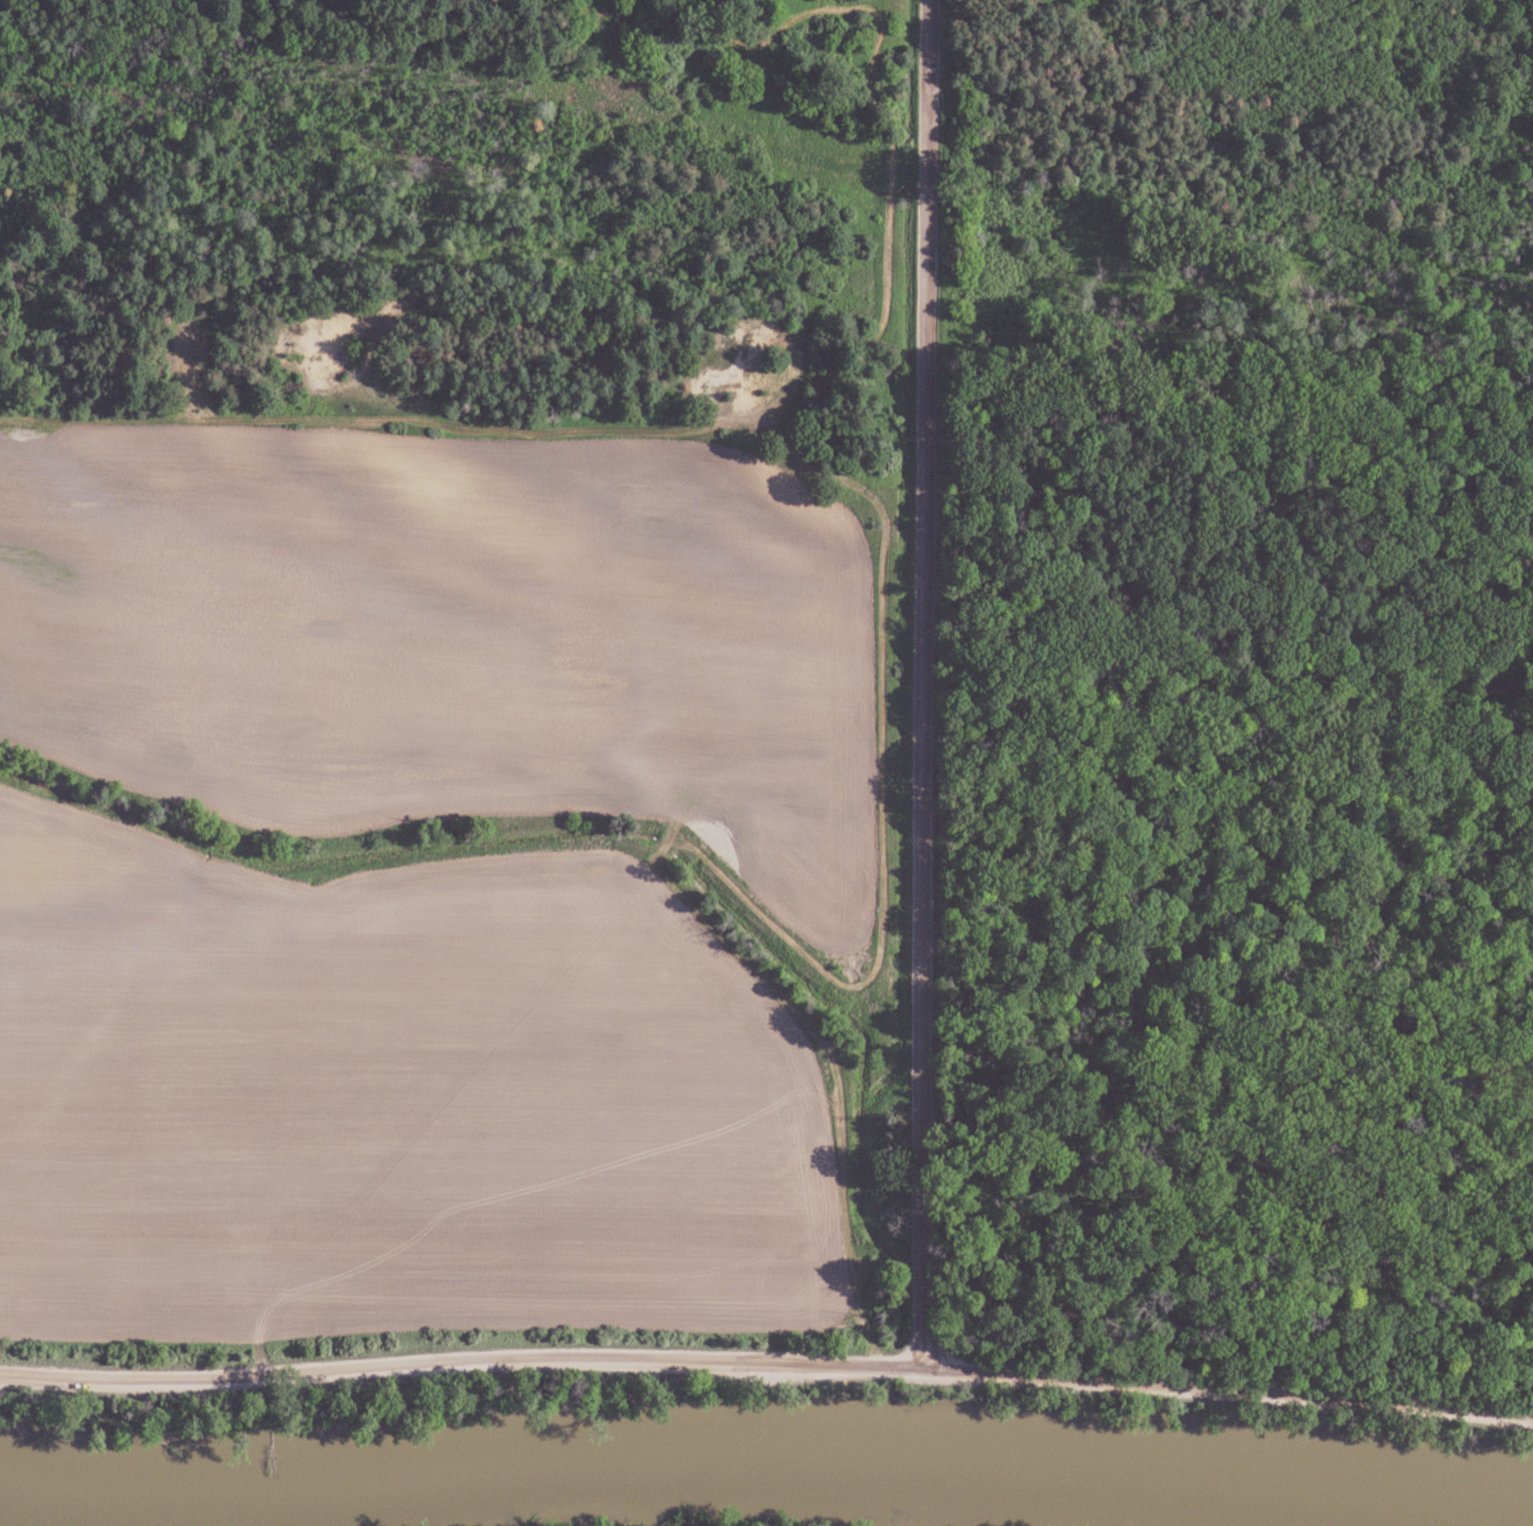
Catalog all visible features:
road: (690, 413)
road: (1027, 550)
road: (1363, 598)
road: (928, 683)
road: (1065, 686)
road: (1355, 891)
road: (767, 1364)
river: (766, 1470)

